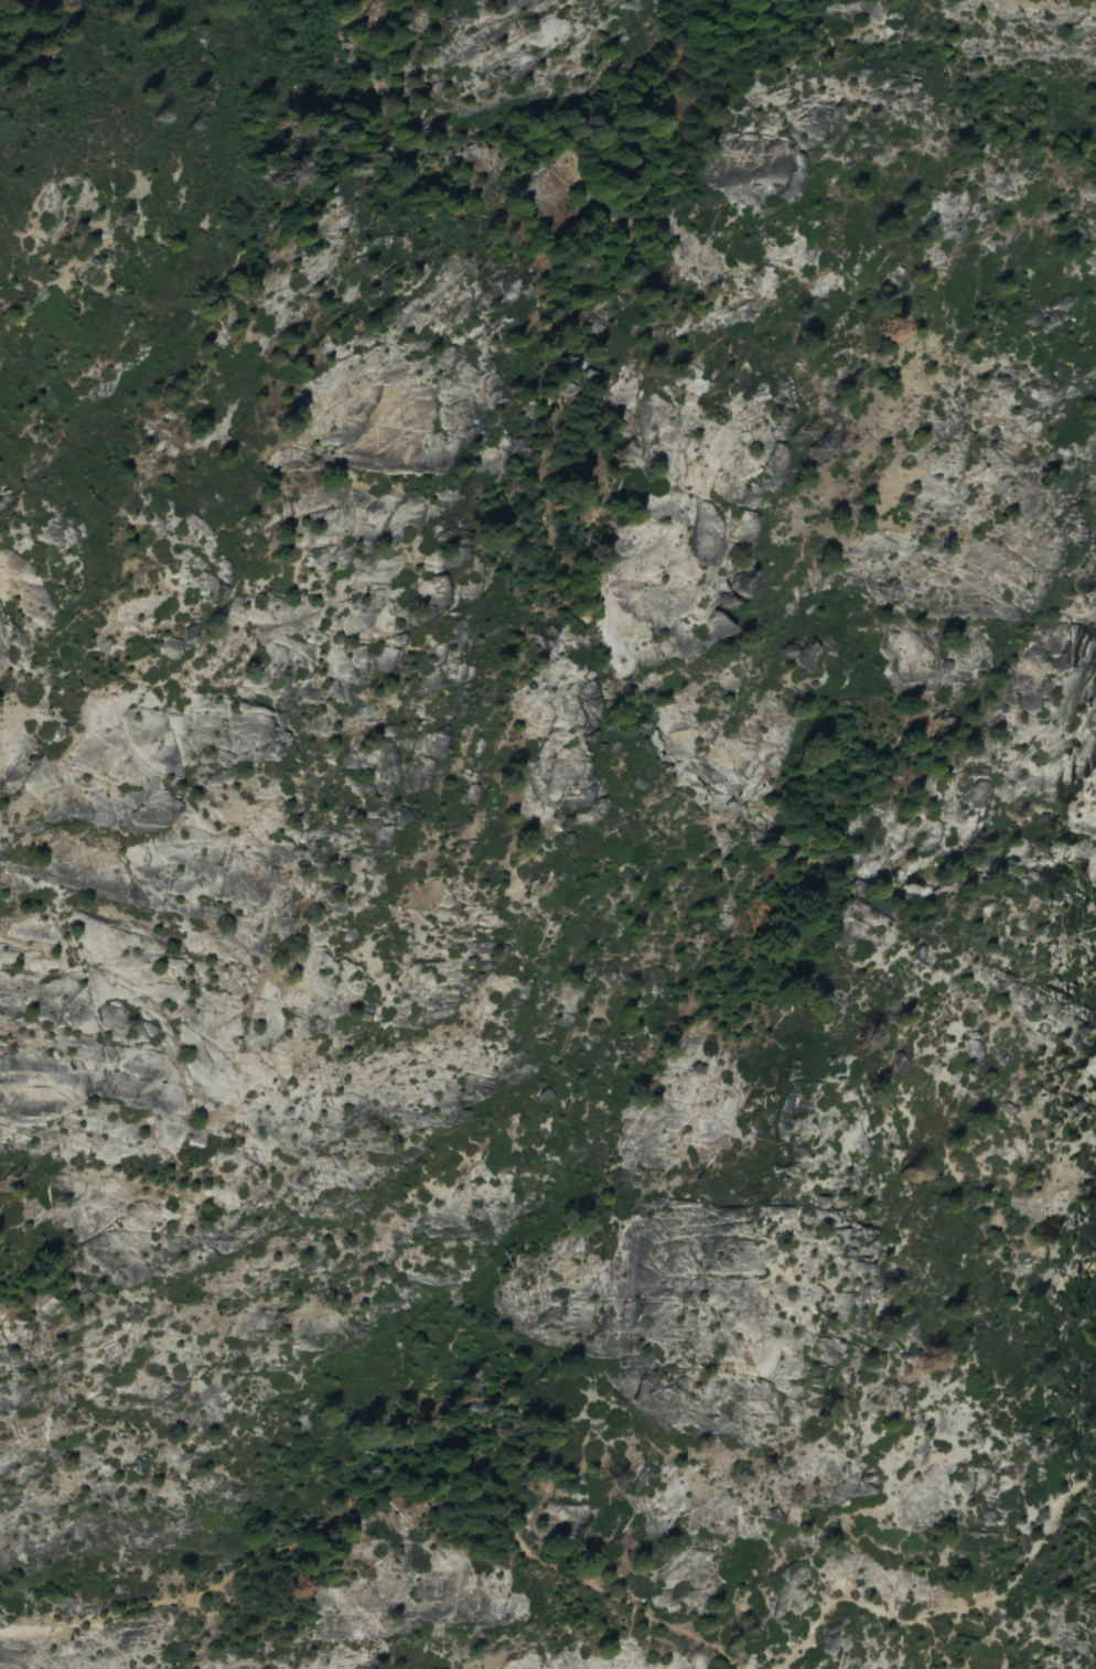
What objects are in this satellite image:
road: (373, 1539)
road: (953, 1623)

